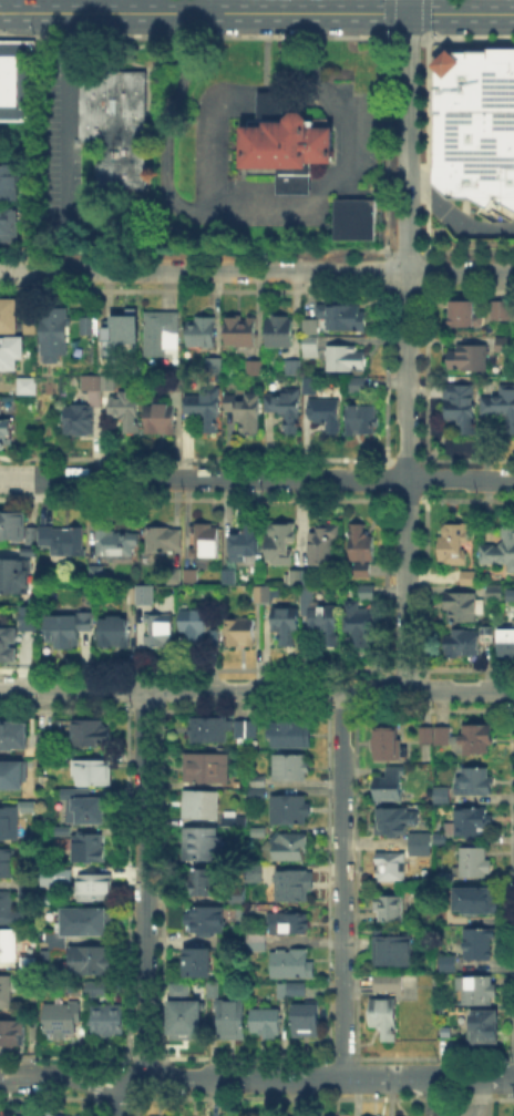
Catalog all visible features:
road: (32, 6)
road: (106, 6)
road: (407, 6)
road: (199, 7)
traffic signals: (407, 11)
road: (460, 12)
road: (203, 13)
road: (424, 14)
road: (387, 16)
road: (176, 17)
road: (214, 17)
road: (425, 33)
road: (385, 34)
road: (176, 35)
road: (214, 35)
road: (466, 37)
road: (199, 38)
road: (410, 38)
road: (302, 61)
building: (17, 78)
road: (268, 99)
road: (64, 113)
building: (474, 124)
building: (115, 125)
road: (216, 133)
road: (405, 141)
building: (285, 143)
road: (419, 174)
building: (9, 181)
road: (223, 205)
road: (453, 216)
building: (354, 217)
building: (8, 222)
road: (256, 270)
building: (503, 313)
building: (10, 315)
building: (345, 317)
building: (466, 317)
building: (52, 332)
building: (241, 332)
building: (280, 332)
building: (203, 334)
building: (123, 335)
building: (162, 335)
building: (311, 339)
building: (504, 344)
building: (12, 354)
building: (471, 357)
building: (347, 360)
building: (215, 367)
building: (294, 368)
building: (256, 369)
building: (92, 382)
building: (307, 383)
building: (109, 385)
building: (174, 386)
building: (358, 386)
building: (27, 388)
building: (462, 407)
building: (501, 407)
building: (206, 409)
building: (286, 410)
building: (126, 411)
building: (245, 411)
building: (326, 414)
building: (81, 420)
building: (362, 420)
building: (161, 421)
building: (6, 433)
road: (257, 478)
road: (403, 480)
building: (16, 526)
building: (165, 540)
building: (205, 542)
building: (65, 543)
building: (280, 544)
building: (117, 545)
building: (454, 545)
building: (244, 547)
building: (321, 550)
building: (361, 550)
building: (501, 551)
building: (30, 553)
building: (96, 575)
building: (189, 575)
building: (229, 577)
building: (301, 577)
building: (14, 579)
building: (470, 580)
building: (502, 591)
building: (368, 593)
building: (264, 596)
building: (145, 598)
building: (464, 610)
building: (31, 620)
building: (322, 620)
building: (360, 624)
building: (288, 625)
building: (69, 628)
building: (195, 628)
building: (161, 631)
building: (116, 633)
building: (240, 634)
building: (463, 645)
building: (507, 645)
building: (8, 646)
road: (72, 689)
road: (274, 690)
road: (459, 690)
building: (209, 729)
building: (246, 730)
building: (92, 734)
building: (291, 735)
building: (13, 737)
building: (426, 737)
building: (441, 737)
building: (477, 743)
building: (44, 744)
building: (387, 744)
building: (208, 769)
building: (291, 769)
building: (94, 771)
building: (12, 777)
building: (477, 782)
building: (43, 784)
building: (259, 786)
building: (391, 786)
building: (443, 796)
building: (204, 806)
building: (85, 807)
building: (291, 810)
building: (12, 820)
building: (237, 822)
building: (395, 823)
building: (473, 823)
building: (65, 832)
building: (260, 833)
building: (202, 844)
building: (421, 844)
building: (290, 848)
building: (90, 849)
building: (7, 863)
building: (475, 863)
building: (392, 868)
building: (69, 872)
building: (256, 873)
building: (205, 882)
road: (342, 884)
road: (143, 885)
building: (295, 887)
building: (95, 888)
building: (28, 892)
building: (238, 898)
building: (479, 902)
building: (391, 909)
building: (9, 910)
building: (206, 920)
building: (92, 922)
building: (289, 924)
building: (258, 940)
building: (58, 943)
building: (8, 946)
building: (480, 946)
building: (394, 950)
building: (93, 961)
building: (445, 962)
building: (199, 964)
building: (291, 964)
building: (395, 983)
building: (92, 986)
building: (176, 989)
building: (217, 989)
building: (10, 991)
building: (292, 991)
building: (479, 992)
building: (230, 1020)
building: (385, 1020)
building: (107, 1021)
building: (307, 1021)
building: (62, 1022)
building: (186, 1022)
building: (267, 1024)
building: (485, 1030)
building: (12, 1036)
road: (65, 1077)
road: (321, 1077)
road: (119, 1095)
road: (477, 1097)
building: (68, 1115)

